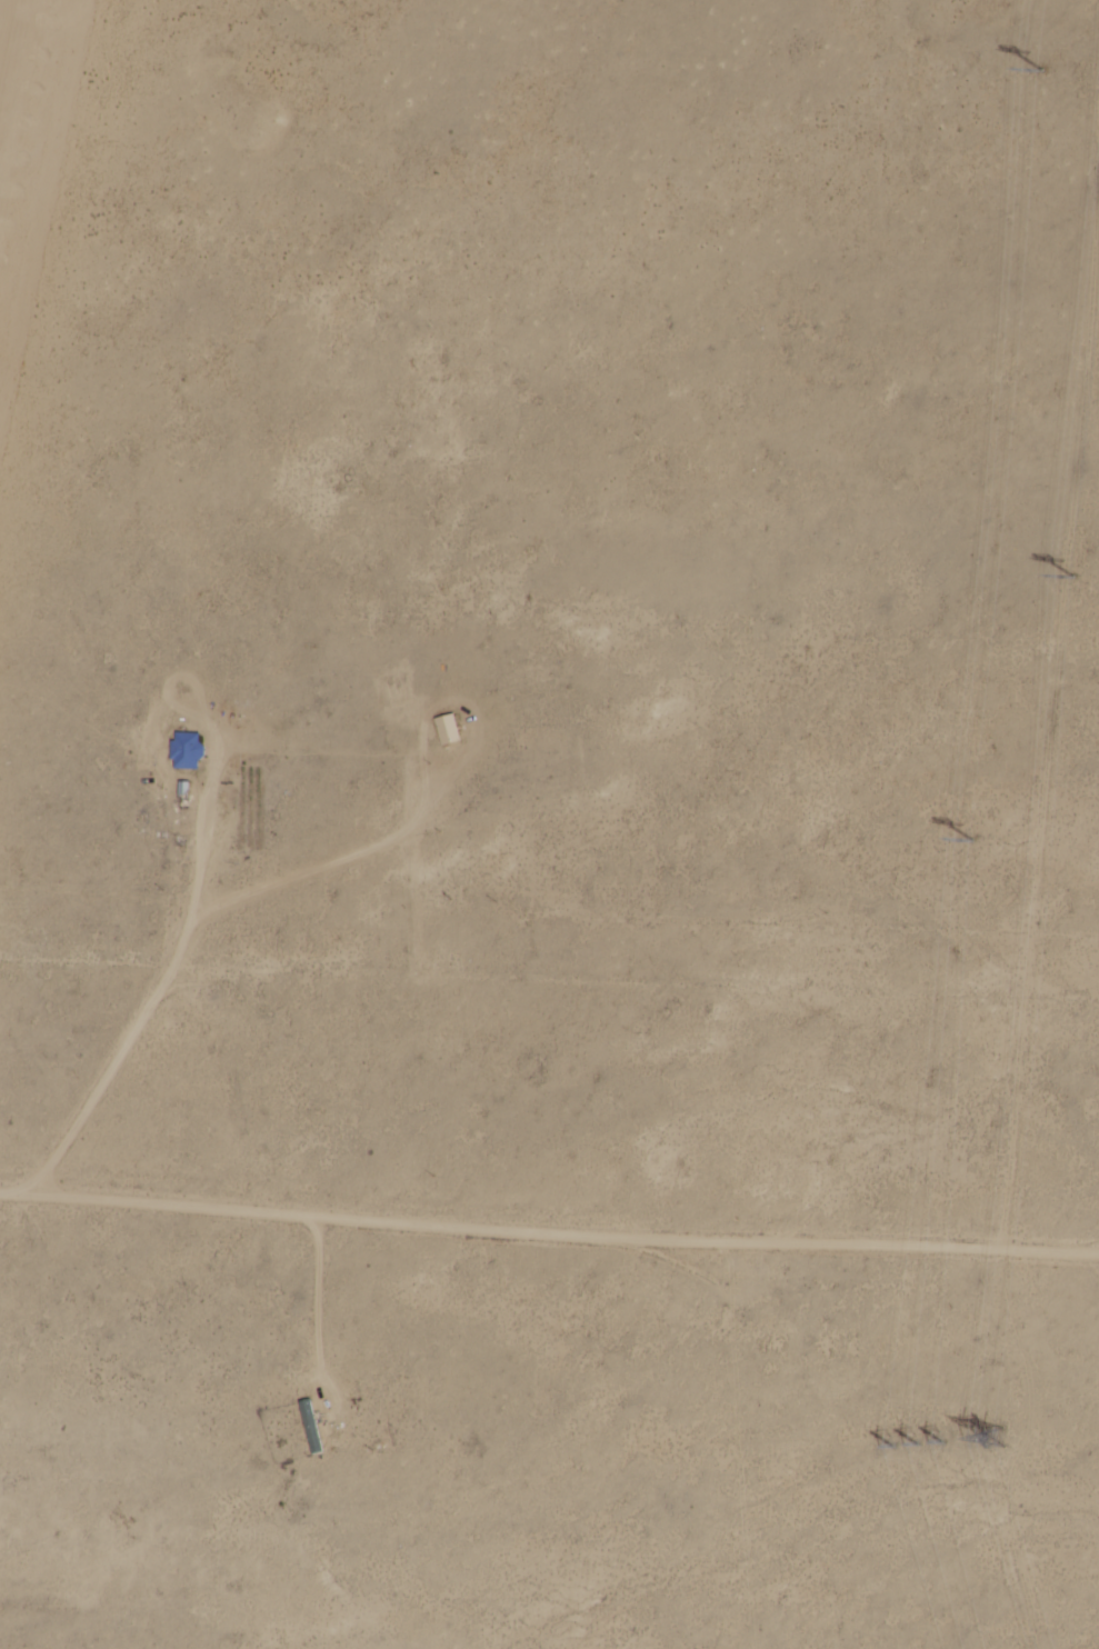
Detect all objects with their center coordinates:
power tower: (1042, 67)
power tower: (1073, 574)
building: (187, 750)
power tower: (971, 837)
road: (143, 1019)
road: (548, 1237)
power tower: (997, 1436)
power tower: (919, 1442)

